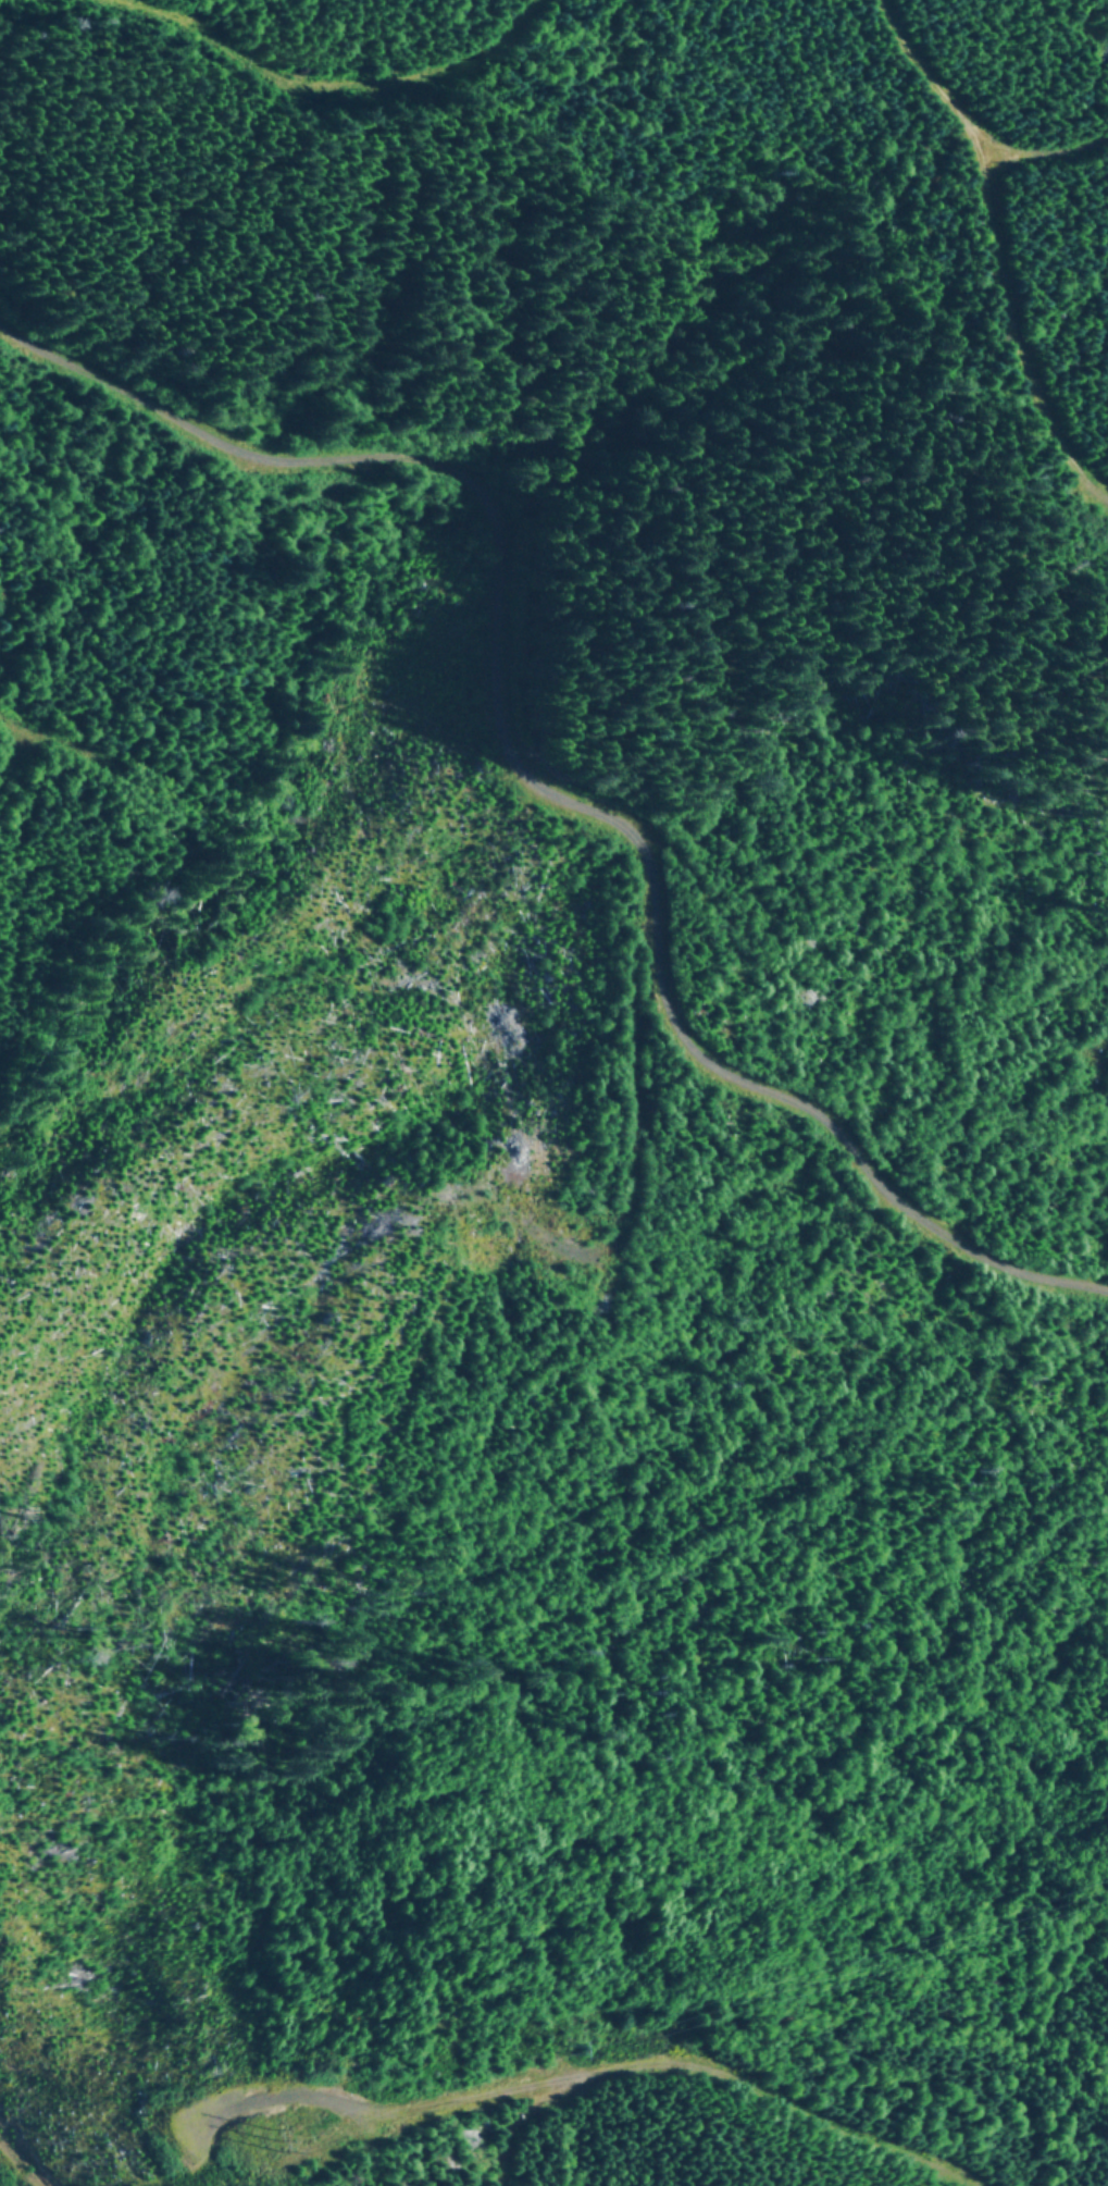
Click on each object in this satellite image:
road: (1018, 102)
road: (537, 852)
road: (700, 2111)
road: (60, 2117)
road: (537, 2181)

